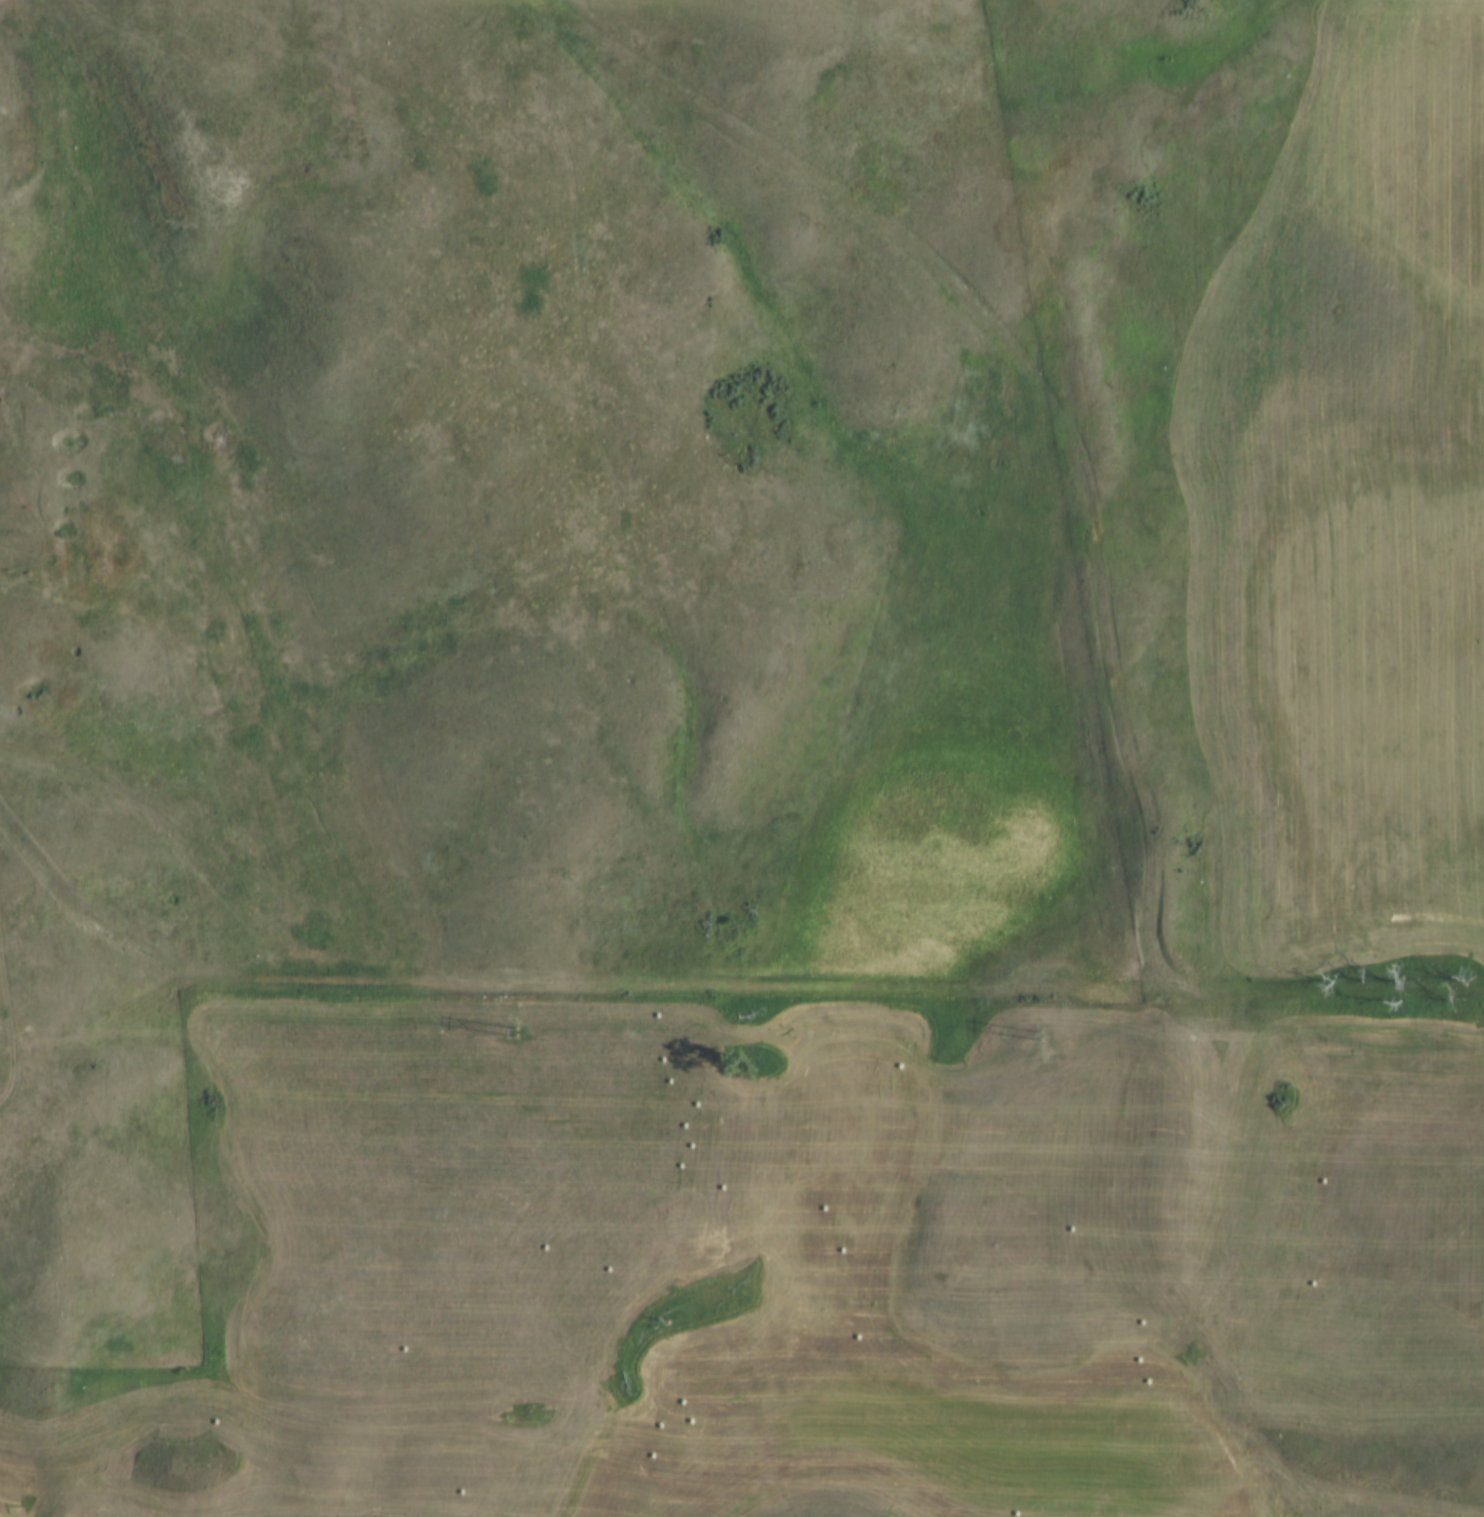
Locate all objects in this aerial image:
road: (8, 1032)

